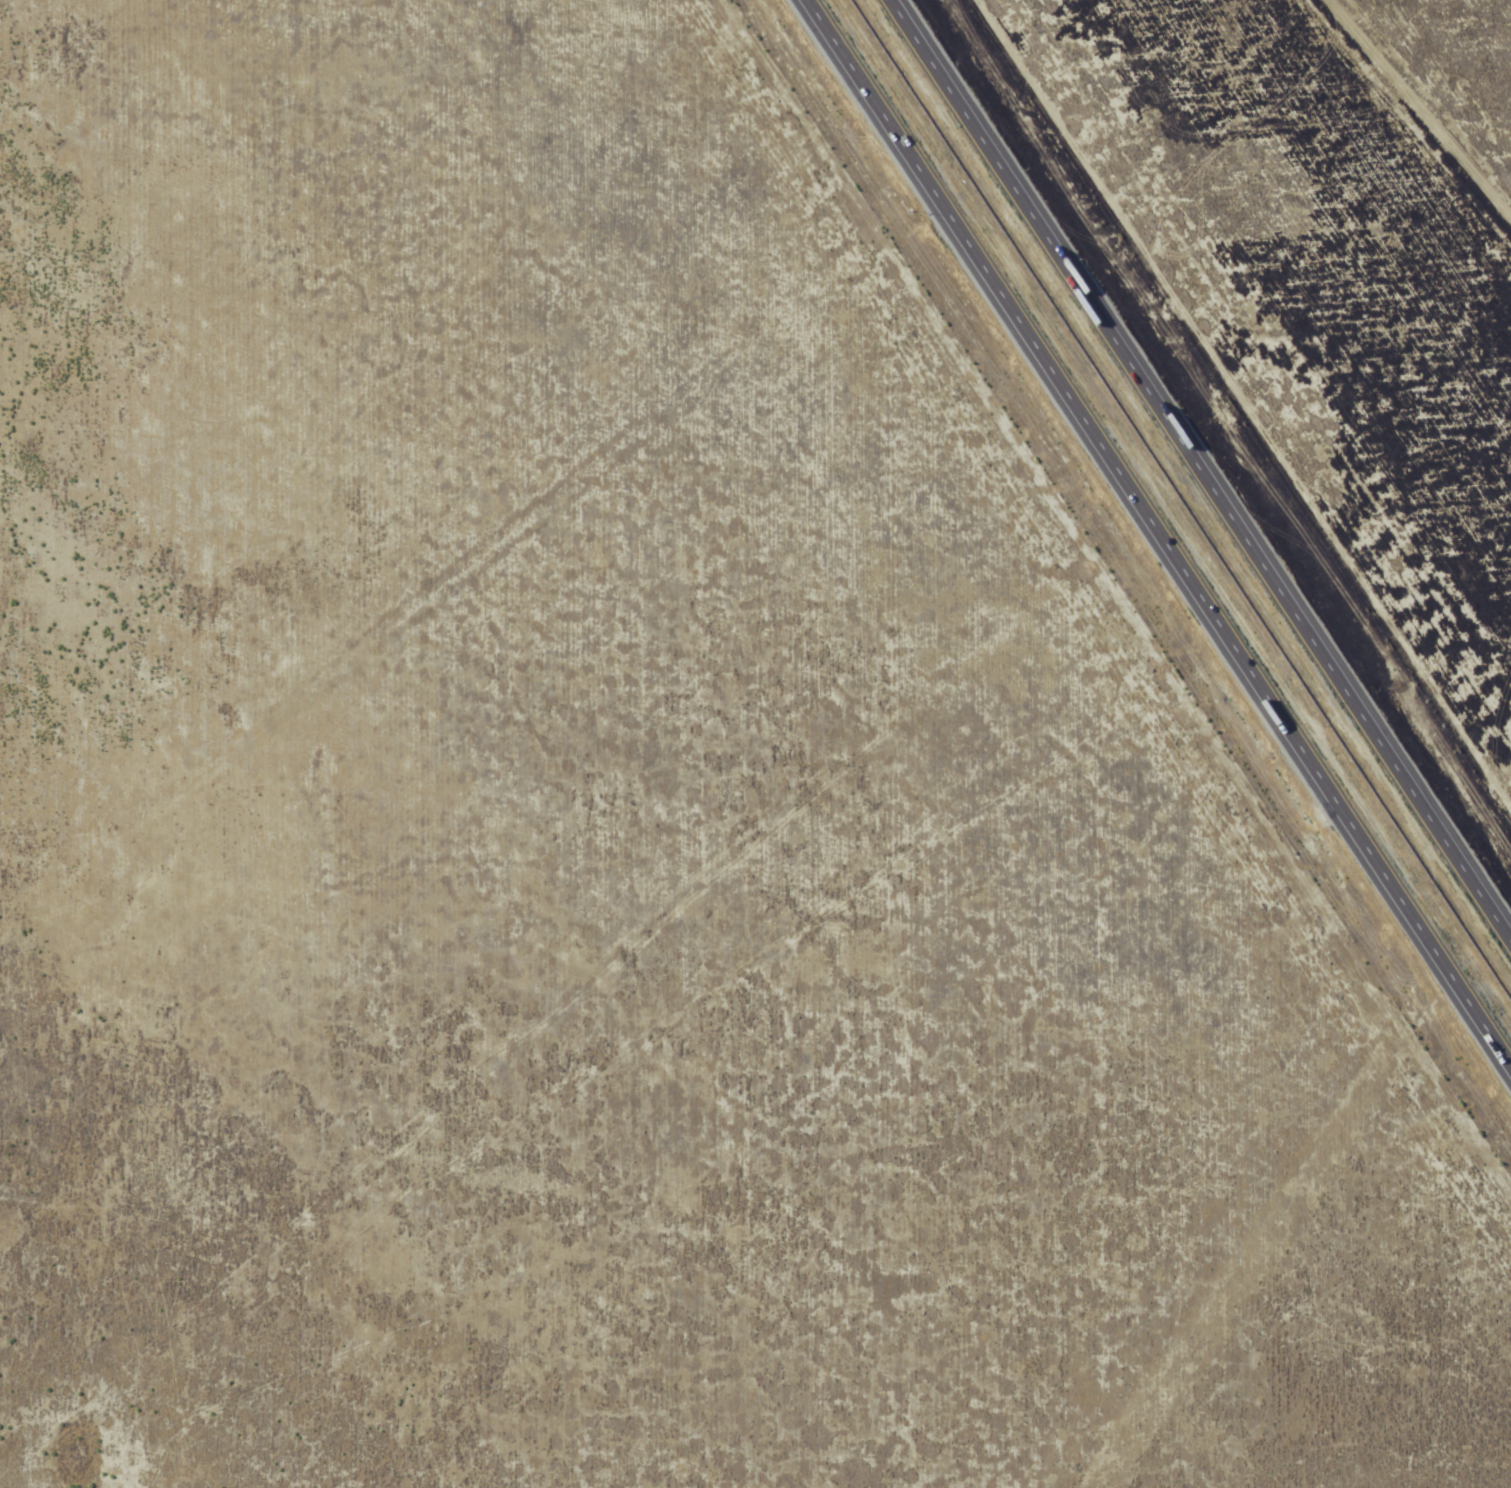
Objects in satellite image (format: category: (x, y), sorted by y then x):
road: (1408, 122)
road: (1203, 471)
road: (1162, 532)

